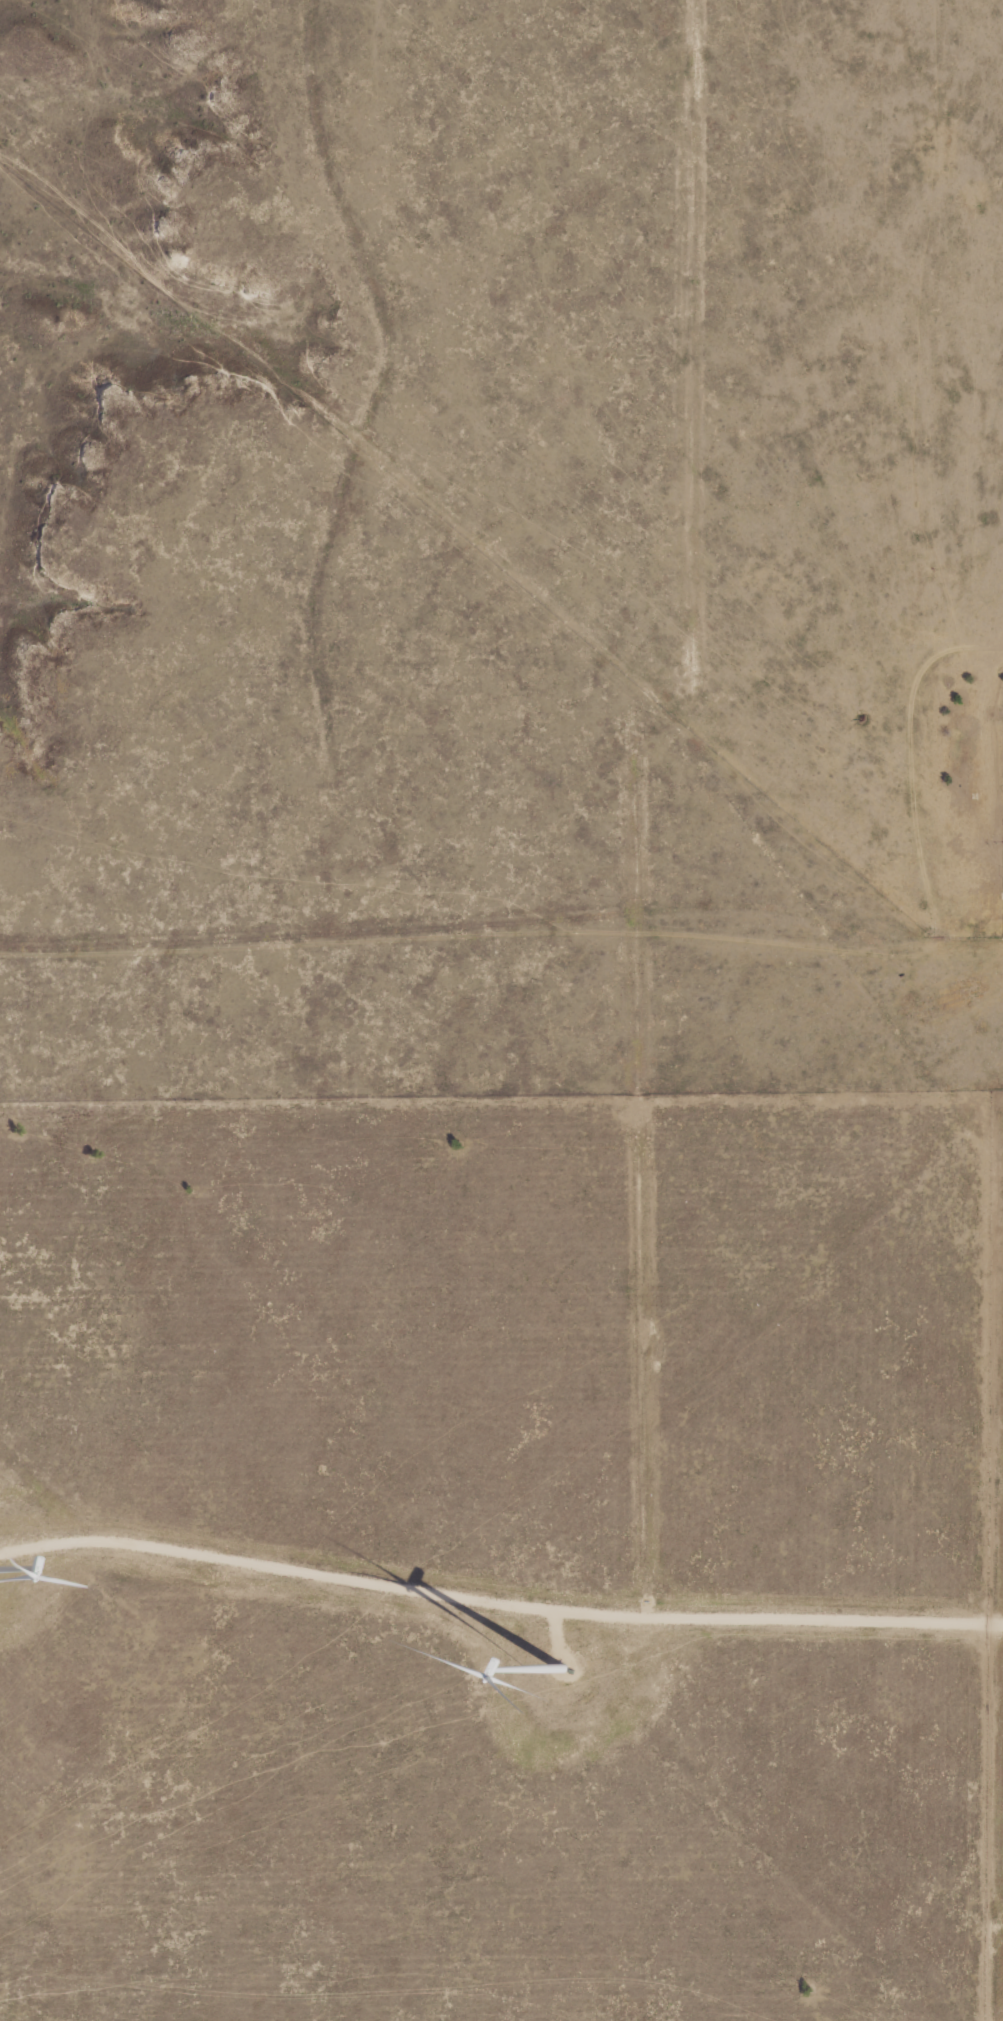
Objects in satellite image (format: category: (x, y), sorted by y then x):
wind turbine: (560, 1663)

